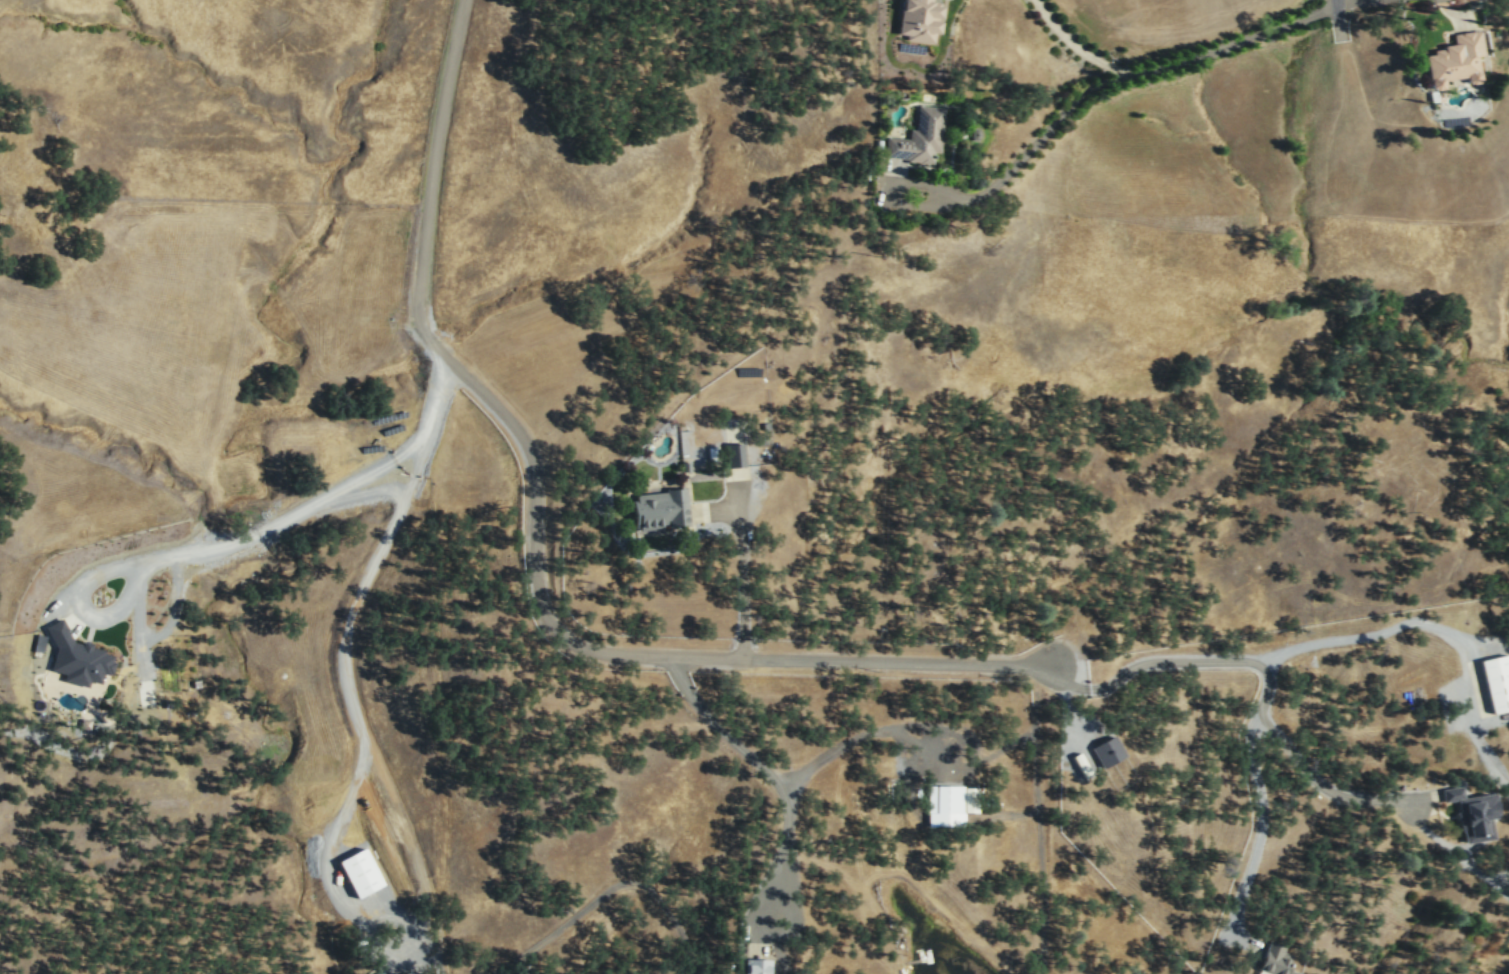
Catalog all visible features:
road: (1452, 14)
road: (1337, 19)
building: (916, 20)
road: (1072, 44)
building: (1456, 59)
road: (1096, 84)
building: (918, 137)
building: (734, 456)
building: (659, 508)
road: (243, 537)
road: (538, 546)
road: (741, 569)
road: (171, 606)
road: (1427, 624)
road: (138, 633)
building: (38, 644)
building: (76, 655)
road: (1176, 661)
building: (1496, 680)
road: (353, 703)
road: (1071, 715)
road: (718, 728)
building: (1106, 750)
building: (1080, 764)
road: (785, 780)
road: (1329, 791)
building: (947, 804)
building: (1472, 811)
road: (1259, 826)
road: (608, 888)
building: (1275, 959)
building: (756, 965)
building: (380, 973)

